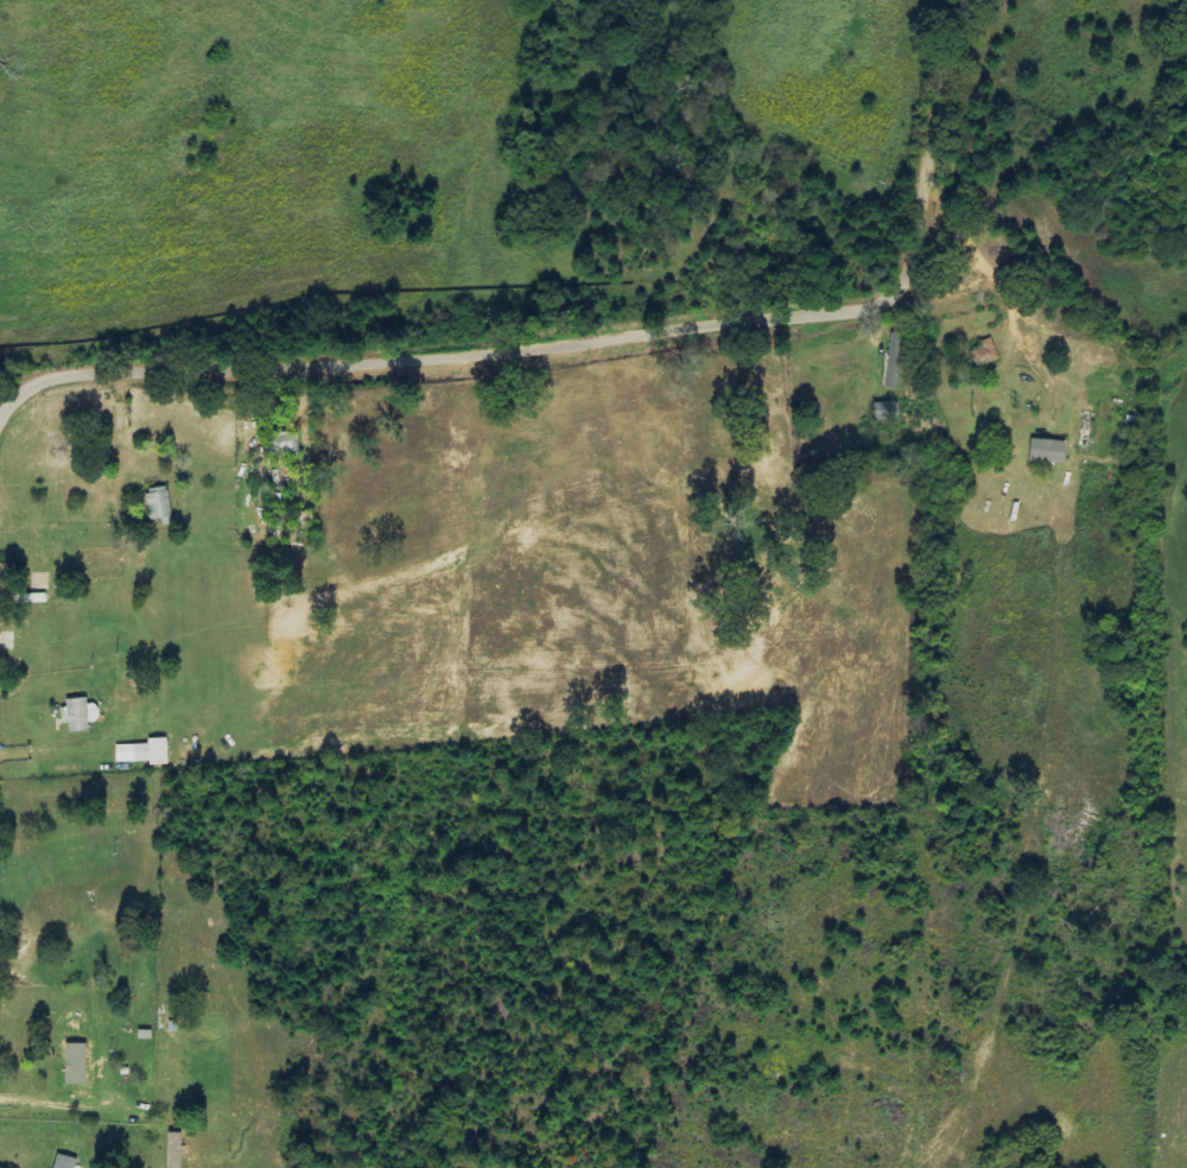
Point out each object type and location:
road: (659, 331)
building: (984, 354)
building: (895, 362)
road: (50, 379)
building: (884, 412)
building: (283, 446)
building: (1045, 452)
building: (158, 504)
building: (101, 561)
building: (78, 715)
building: (142, 753)
building: (74, 1065)
building: (172, 1150)
building: (62, 1162)

